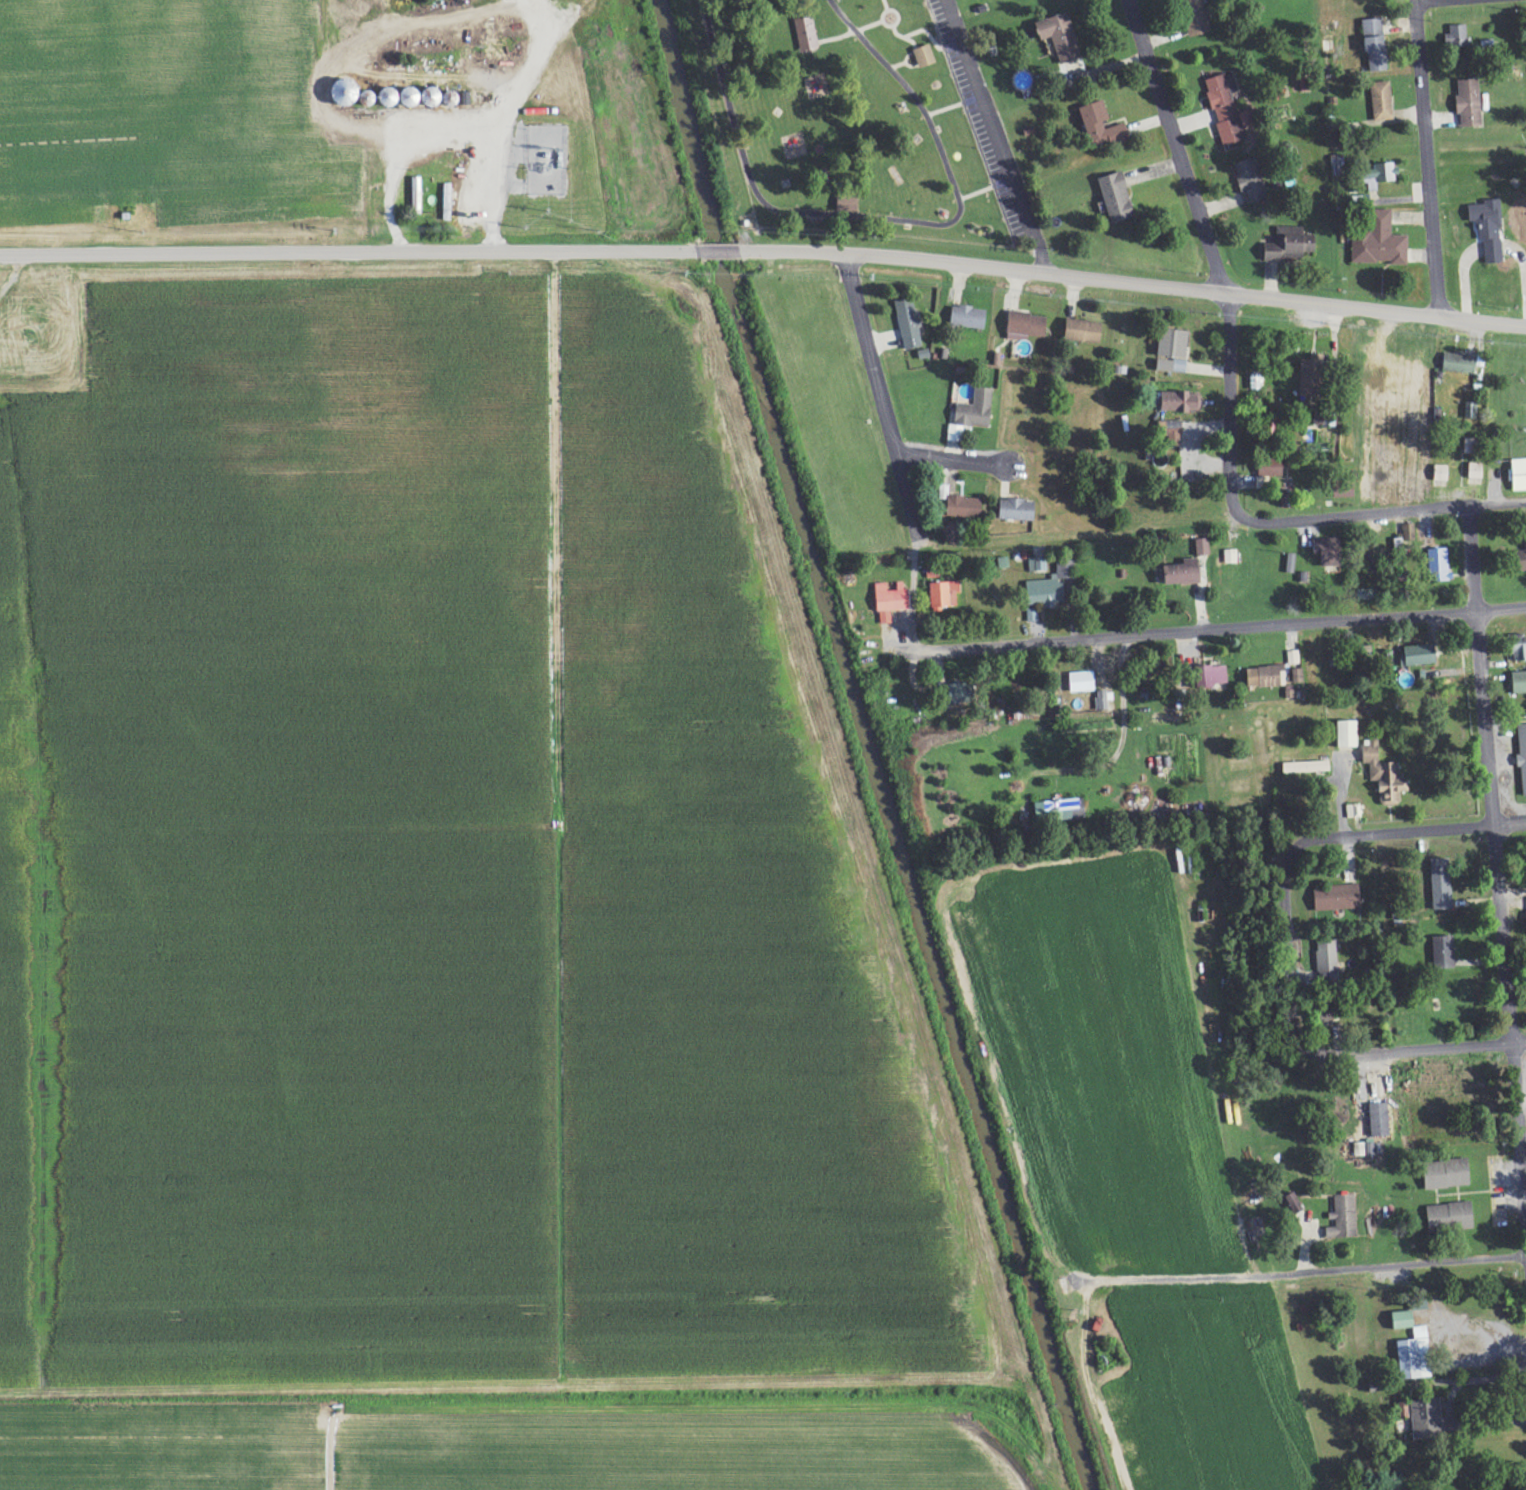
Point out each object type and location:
road: (1420, 0)
building: (1198, 15)
building: (807, 35)
building: (1459, 37)
building: (1061, 38)
building: (1376, 46)
building: (926, 57)
building: (1383, 102)
building: (1470, 104)
building: (1228, 111)
building: (1102, 127)
road: (1176, 144)
road: (1427, 157)
building: (1382, 176)
building: (1251, 182)
building: (1117, 198)
building: (1489, 230)
building: (1381, 243)
building: (1292, 245)
road: (714, 250)
road: (347, 252)
road: (1130, 280)
building: (970, 318)
building: (909, 325)
building: (1029, 325)
building: (1085, 332)
building: (1174, 352)
building: (1459, 364)
building: (1409, 378)
building: (1312, 379)
building: (1256, 383)
road: (881, 398)
road: (1234, 399)
building: (1182, 403)
building: (977, 410)
building: (1470, 411)
building: (1172, 432)
road: (951, 455)
building: (1475, 471)
building: (1269, 474)
building: (1518, 475)
building: (966, 508)
building: (1019, 511)
road: (1223, 512)
building: (1405, 539)
building: (1525, 544)
building: (1203, 548)
building: (1330, 552)
building: (1521, 556)
building: (1231, 557)
building: (1039, 564)
building: (1291, 564)
building: (1439, 566)
building: (933, 573)
building: (1184, 573)
building: (1052, 587)
building: (945, 595)
building: (892, 601)
road: (1212, 626)
building: (1520, 652)
building: (1420, 655)
building: (1214, 675)
building: (1298, 676)
building: (1266, 677)
building: (1084, 682)
building: (1519, 682)
building: (963, 693)
building: (1102, 700)
building: (1350, 734)
building: (1522, 754)
building: (1308, 767)
building: (1385, 774)
building: (1062, 810)
building: (1354, 811)
road: (1410, 827)
road: (1497, 857)
building: (1442, 884)
building: (1338, 898)
road: (1287, 938)
building: (1444, 952)
building: (1328, 960)
road: (1426, 1047)
building: (1380, 1120)
building: (1448, 1174)
building: (1297, 1206)
building: (1452, 1217)
building: (1343, 1218)
road: (1301, 1267)
building: (1404, 1320)
building: (1417, 1356)
building: (1428, 1419)

